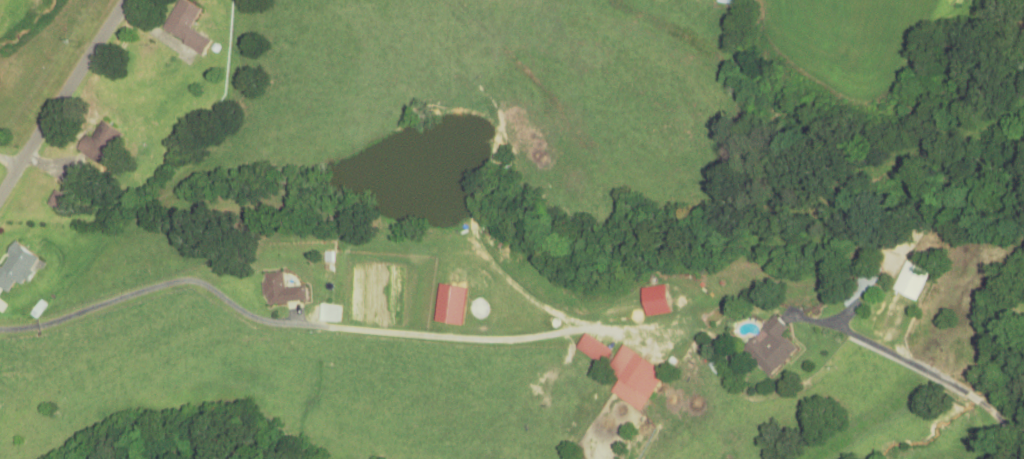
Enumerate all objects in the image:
building: (184, 27)
road: (61, 100)
building: (98, 143)
building: (55, 200)
building: (14, 269)
building: (910, 282)
building: (860, 286)
building: (280, 291)
road: (278, 323)
building: (770, 347)
building: (633, 378)

